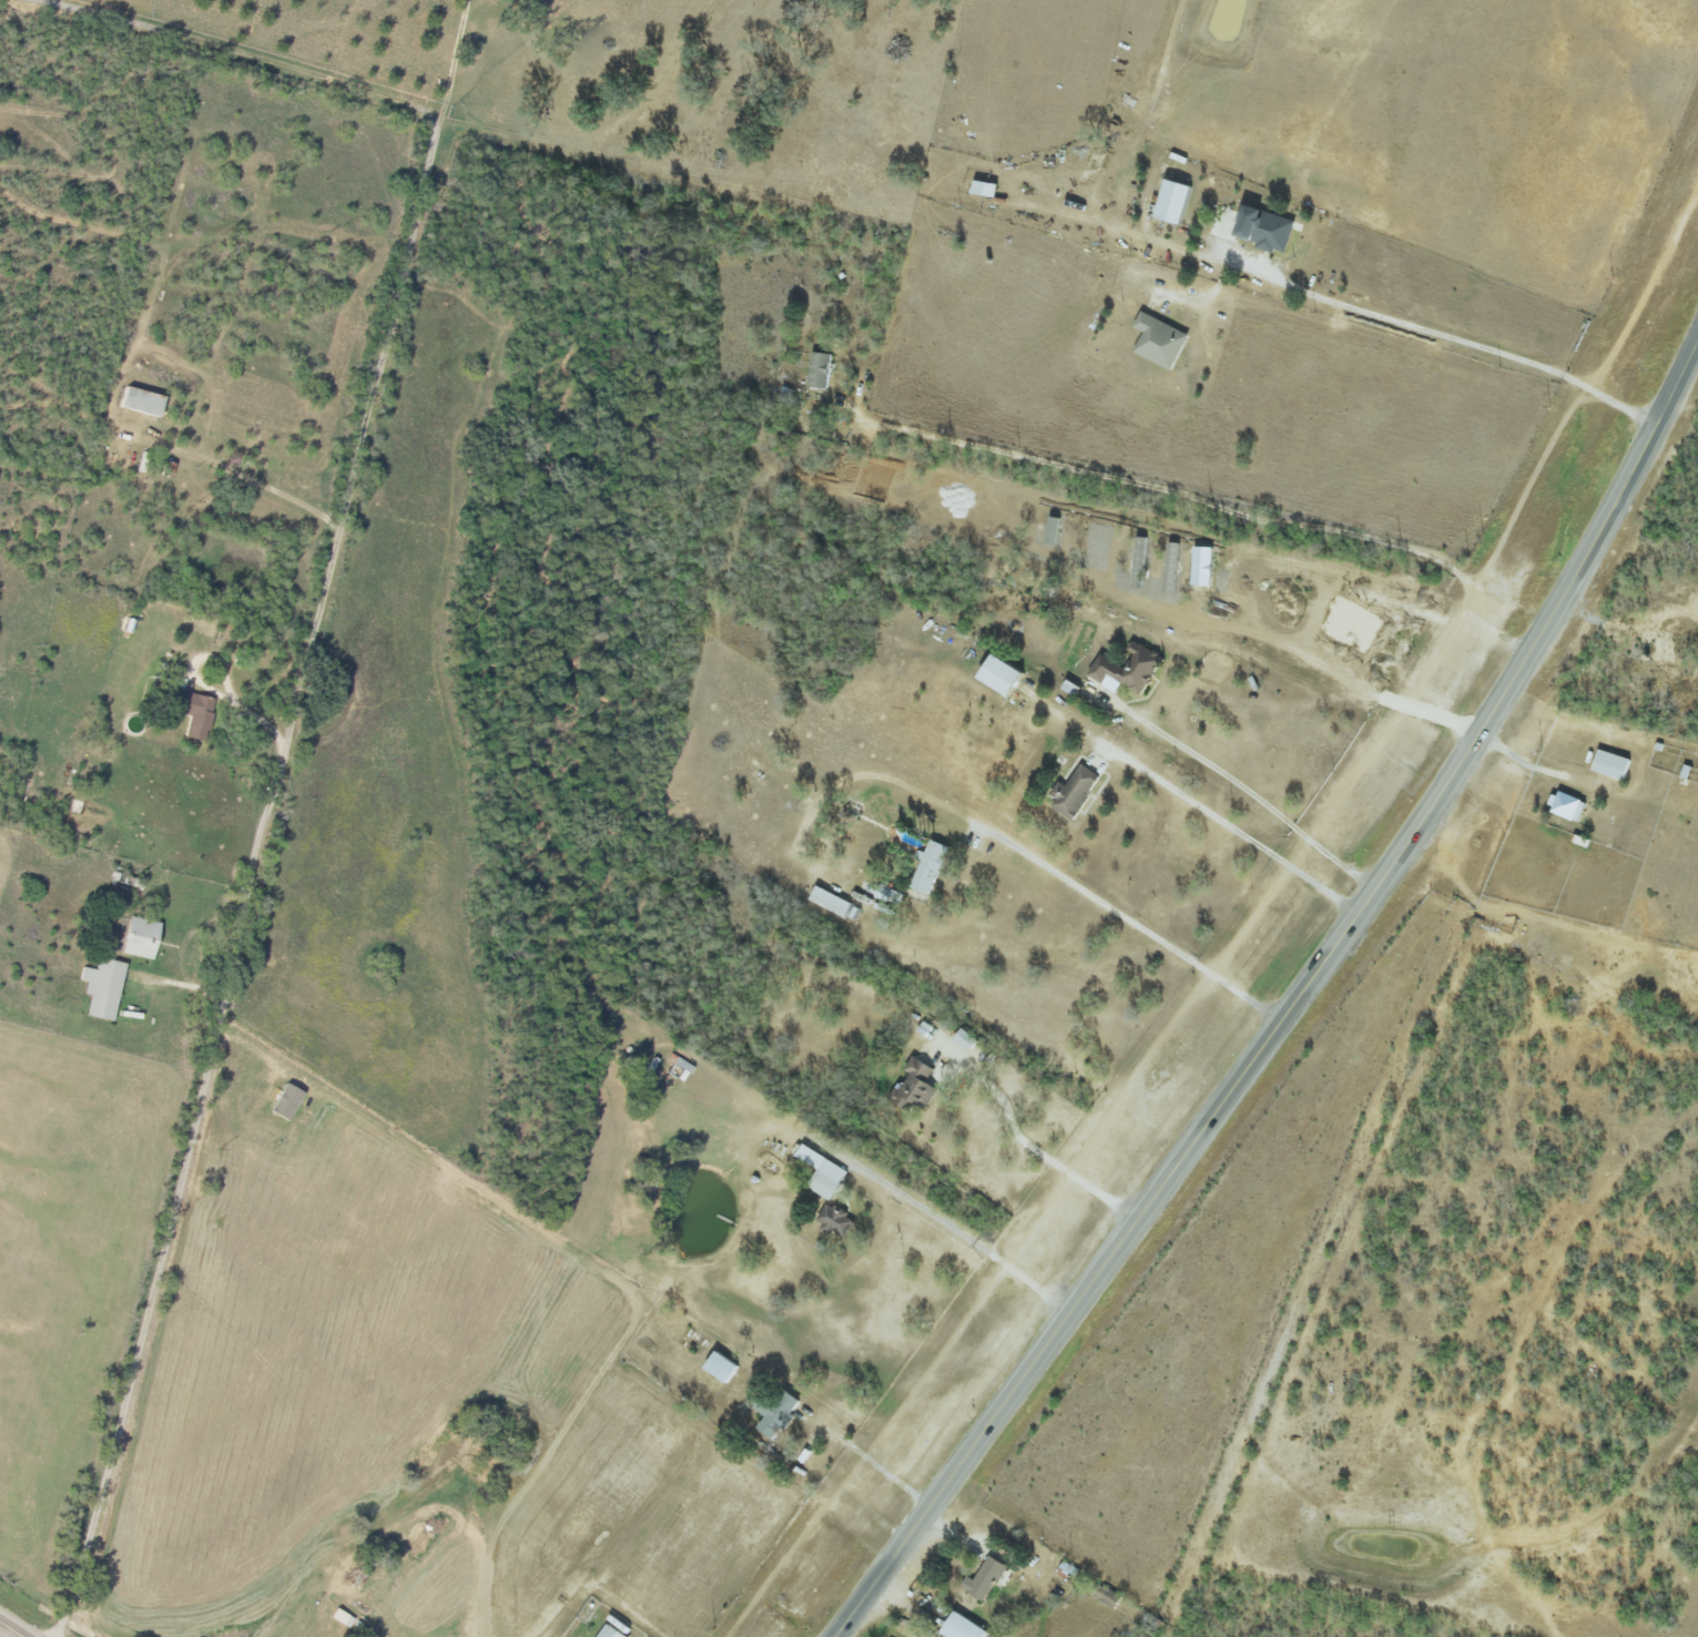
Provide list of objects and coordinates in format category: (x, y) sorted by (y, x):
road: (453, 59)
road: (253, 60)
building: (988, 189)
building: (1178, 202)
building: (1270, 230)
road: (1458, 340)
building: (1162, 342)
building: (822, 370)
building: (142, 401)
road: (360, 434)
road: (232, 474)
road: (1634, 479)
road: (1214, 506)
road: (1484, 654)
building: (1132, 670)
building: (1005, 674)
building: (199, 715)
building: (1614, 765)
building: (1079, 792)
road: (1263, 803)
building: (1570, 807)
road: (1242, 835)
building: (933, 867)
road: (1058, 870)
building: (833, 903)
building: (142, 938)
building: (104, 988)
building: (917, 1086)
road: (1210, 1128)
road: (1045, 1156)
road: (186, 1161)
building: (825, 1173)
building: (838, 1224)
road: (964, 1234)
building: (723, 1366)
building: (779, 1412)
road: (881, 1468)
building: (987, 1579)
building: (1110, 1598)
building: (343, 1617)
building: (966, 1628)
road: (10, 1630)
building: (613, 1631)

